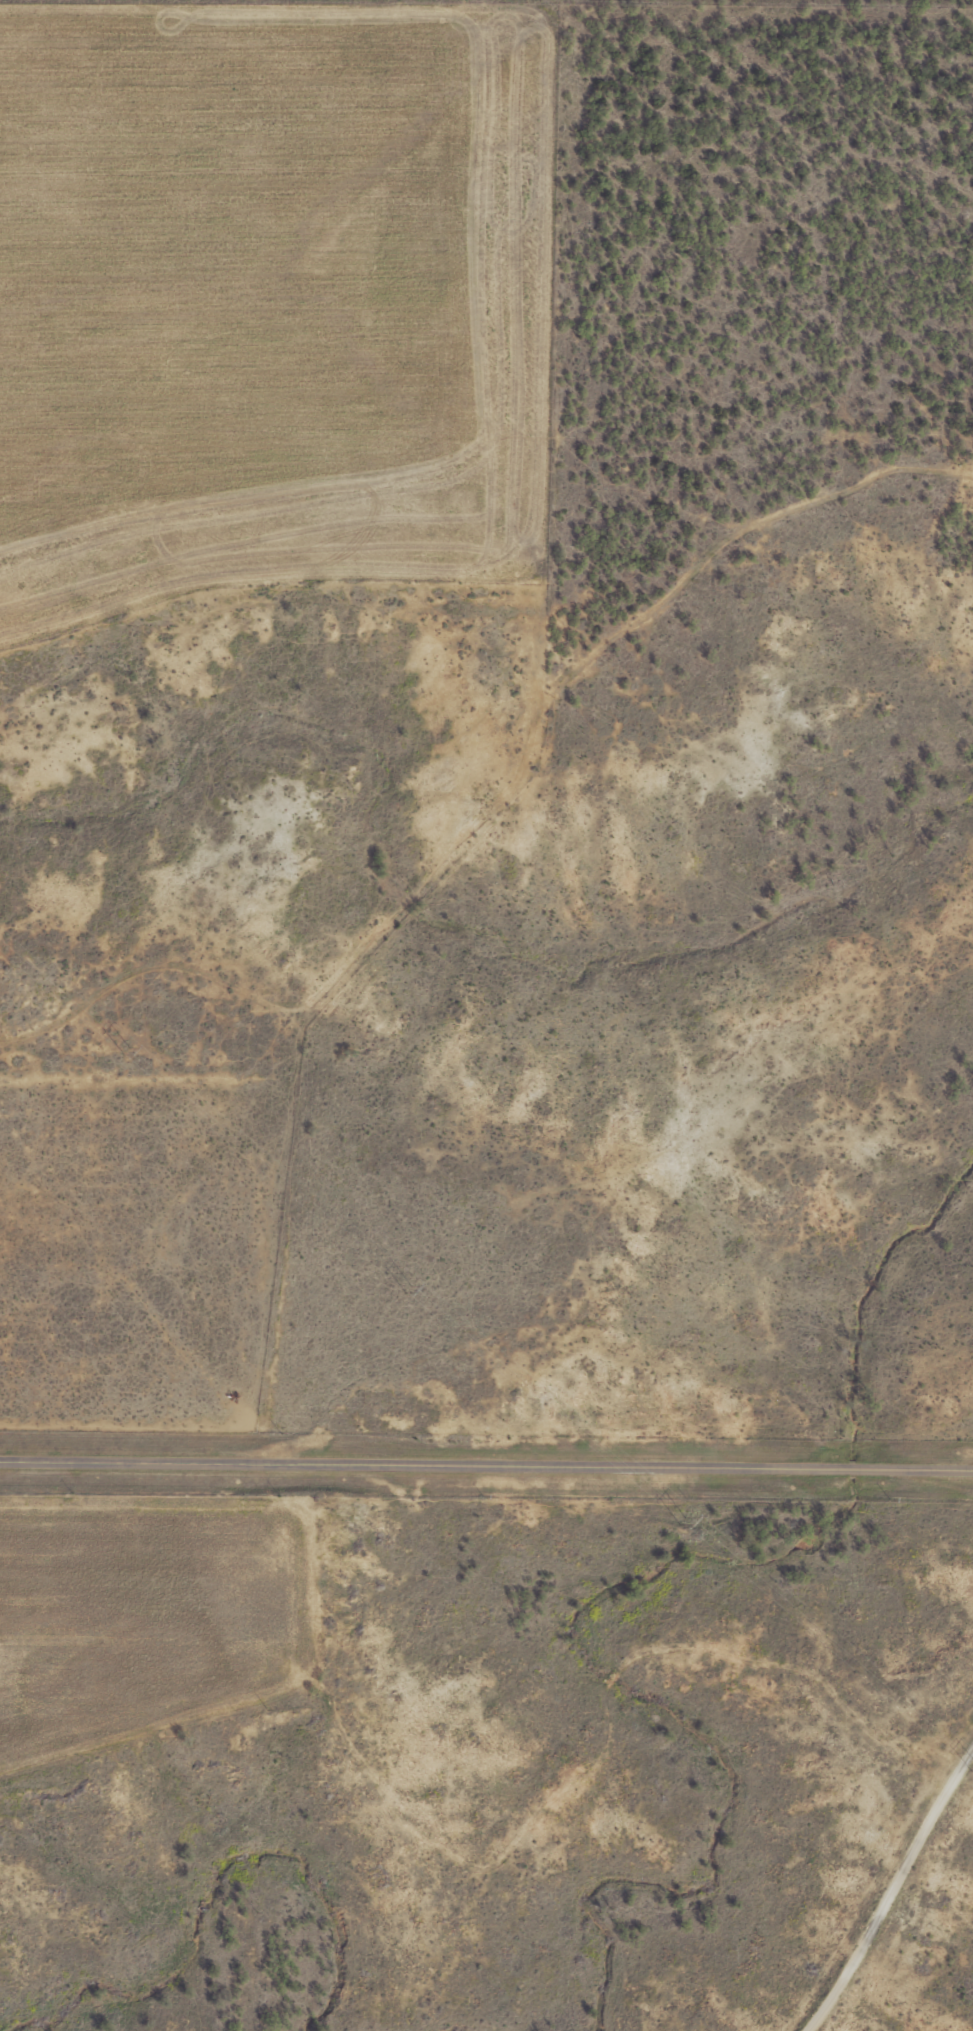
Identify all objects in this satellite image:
power tower: (128, 1050)
power tower: (408, 1288)
road: (486, 1467)
power tower: (684, 1521)
road: (885, 1890)

